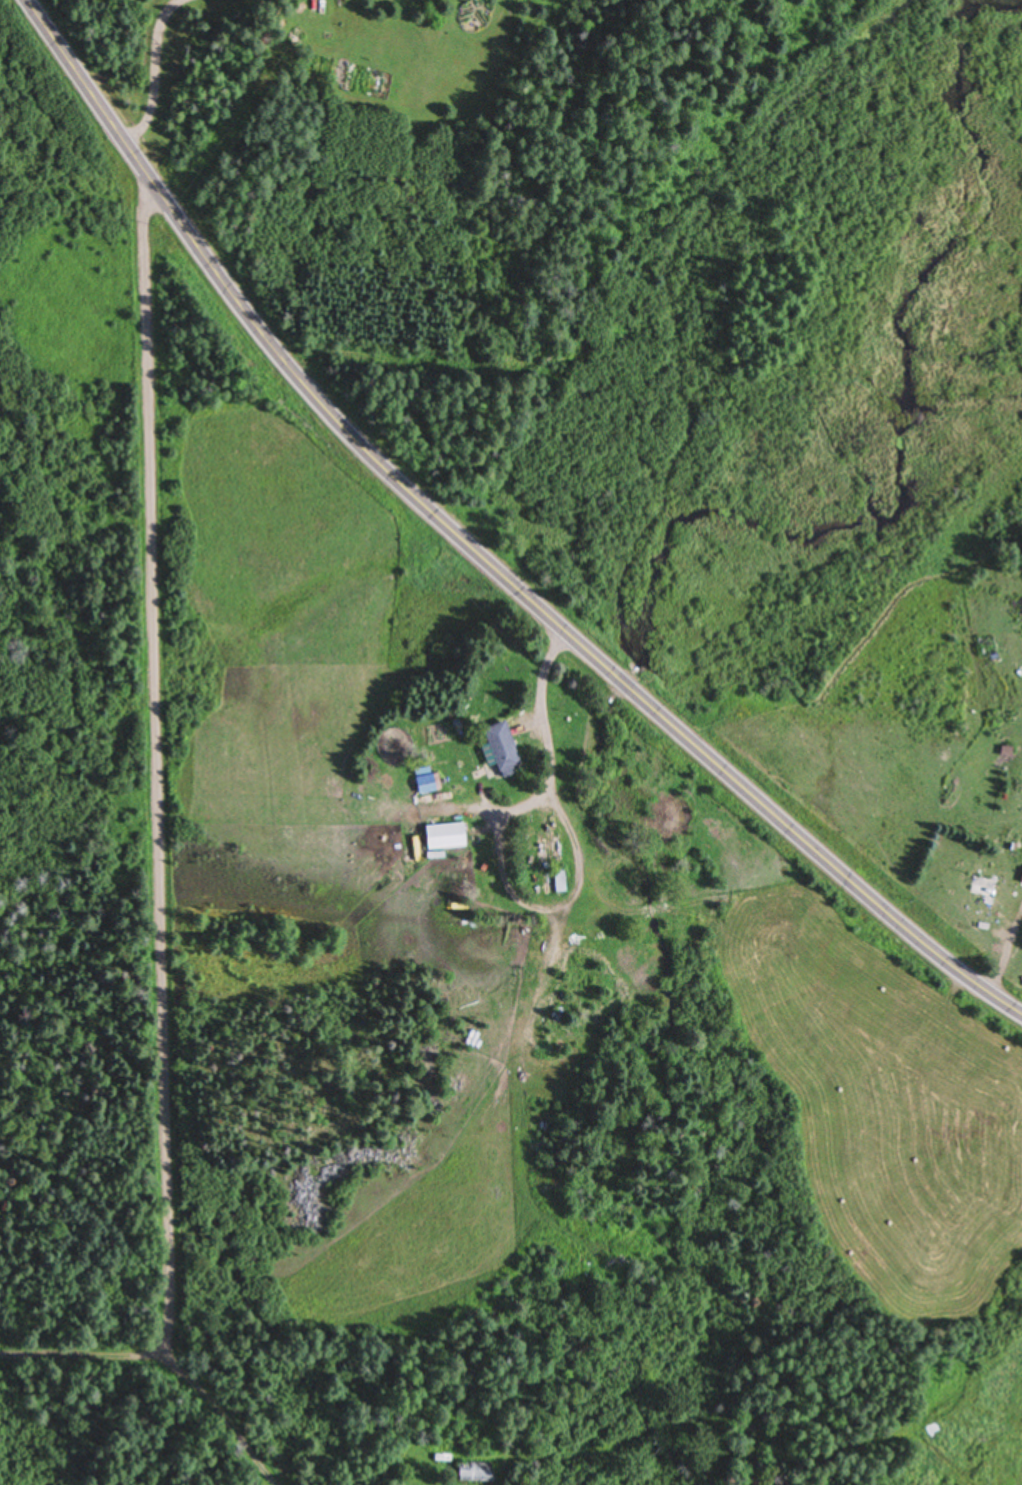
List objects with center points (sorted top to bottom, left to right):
road: (474, 554)
building: (500, 749)
building: (427, 783)
building: (1012, 822)
road: (156, 827)
building: (444, 837)
building: (554, 882)
building: (474, 1473)

